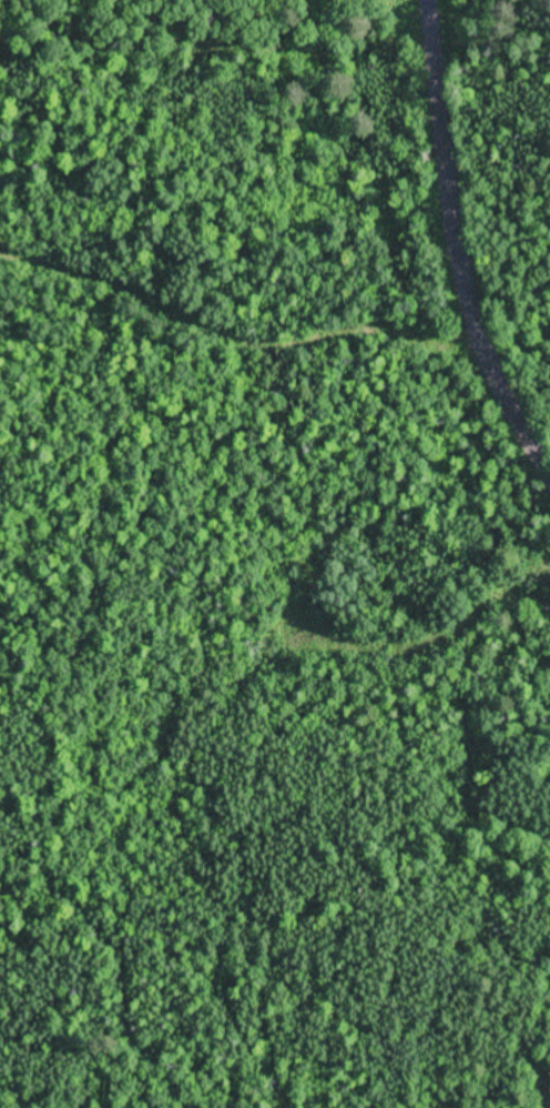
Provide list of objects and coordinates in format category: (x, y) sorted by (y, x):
road: (432, 79)
road: (476, 324)
road: (235, 331)

